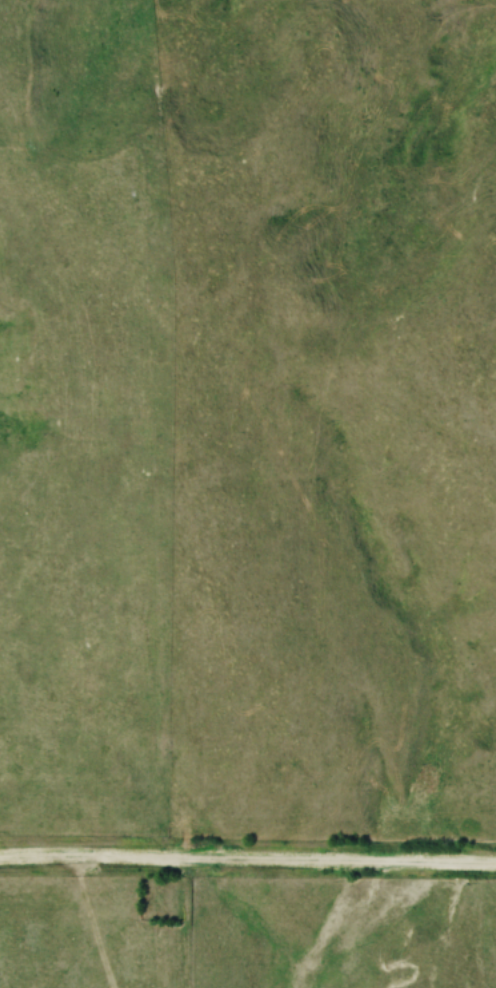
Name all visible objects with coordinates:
road: (248, 857)

